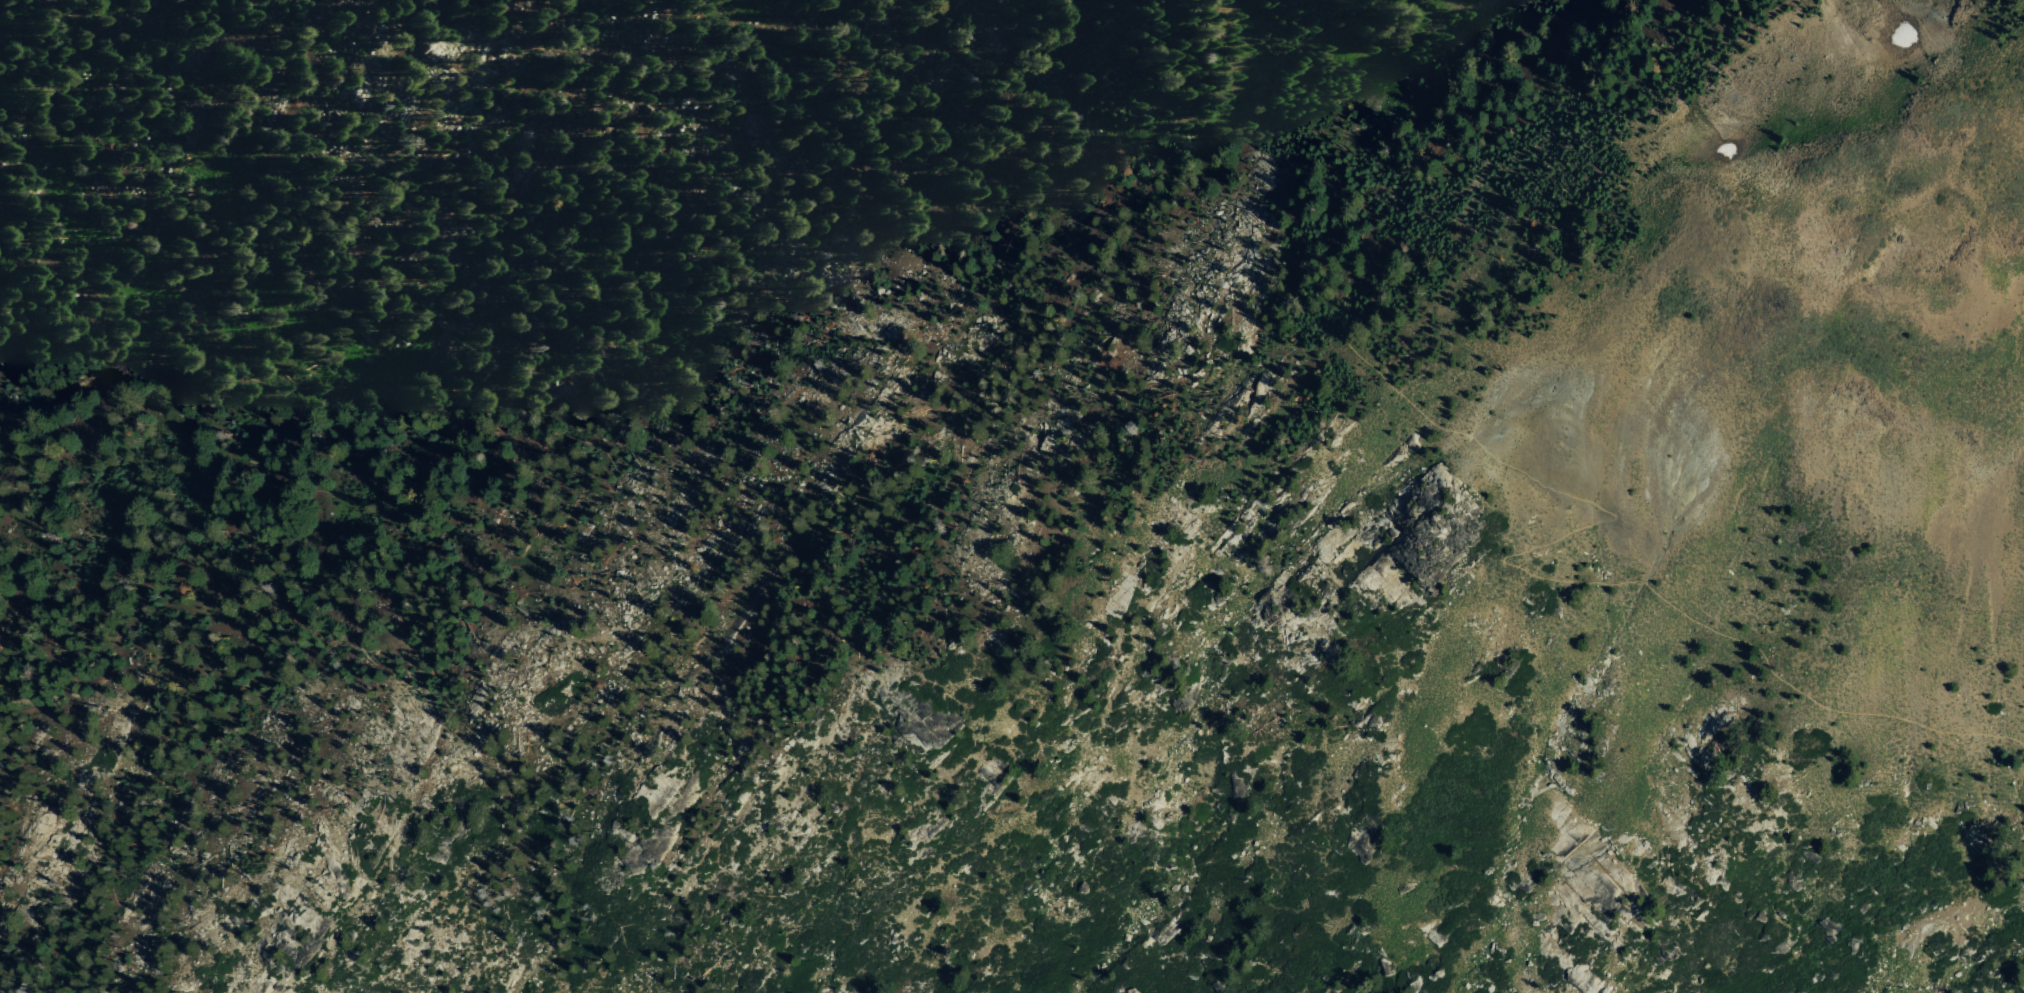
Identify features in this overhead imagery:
road: (947, 195)
road: (1600, 506)

